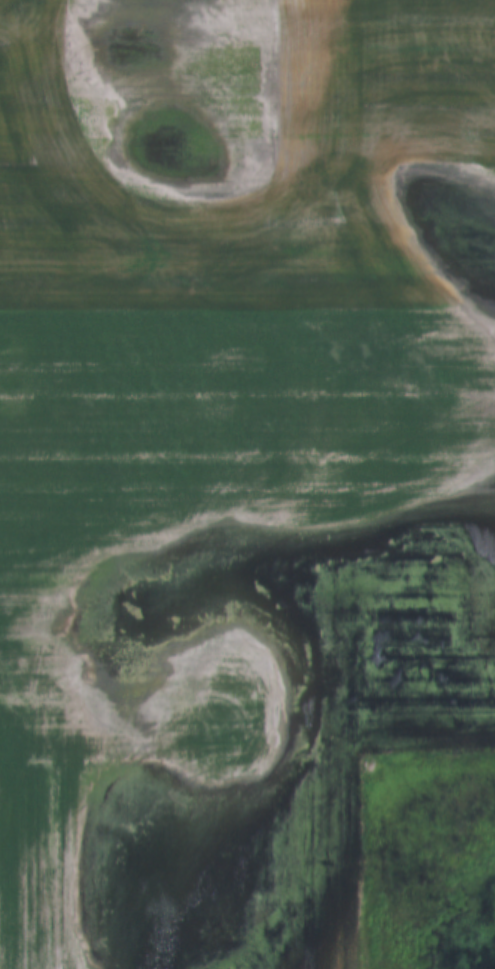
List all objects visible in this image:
crop: (230, 578)

